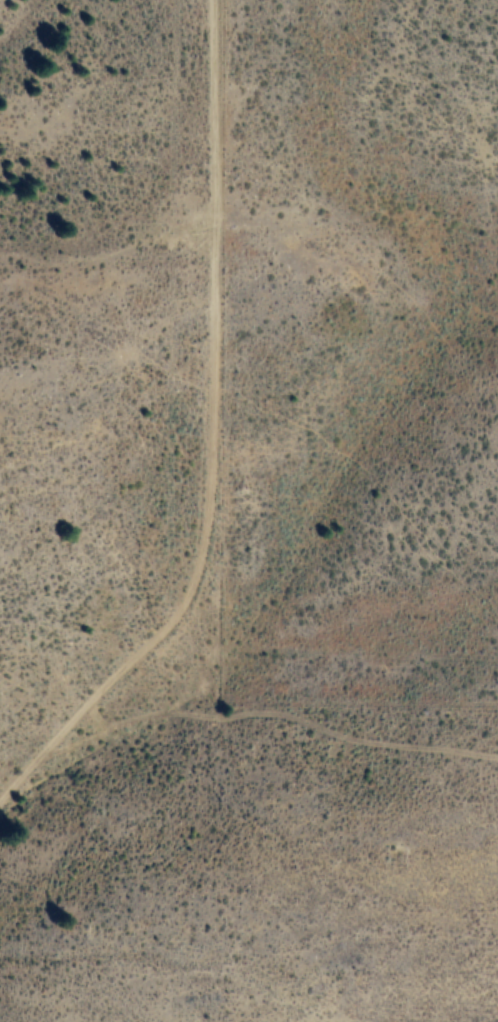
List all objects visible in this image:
road: (174, 434)

